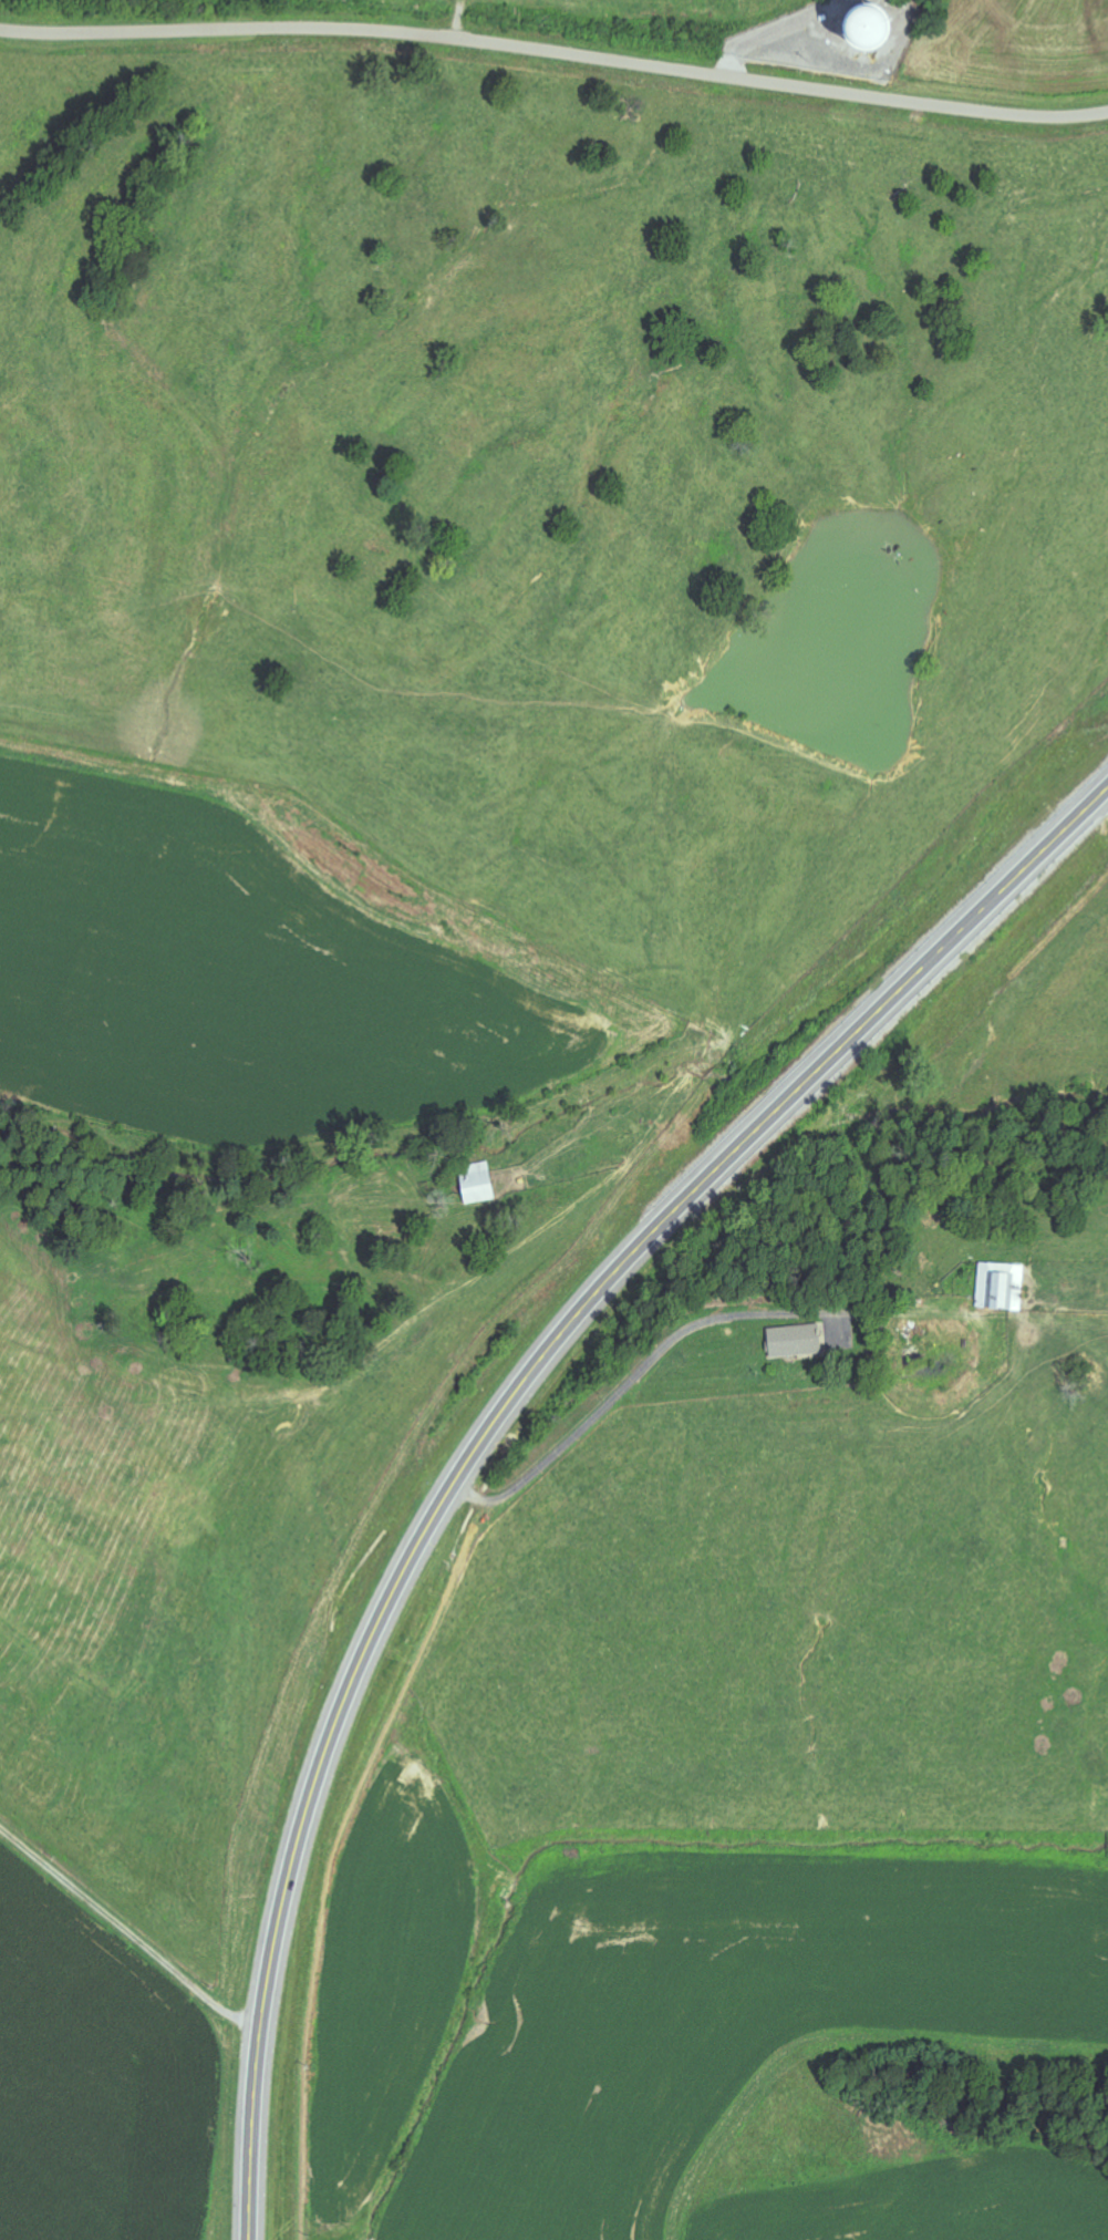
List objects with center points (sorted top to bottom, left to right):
road: (555, 54)
building: (1002, 1288)
building: (797, 1342)
road: (500, 1416)

